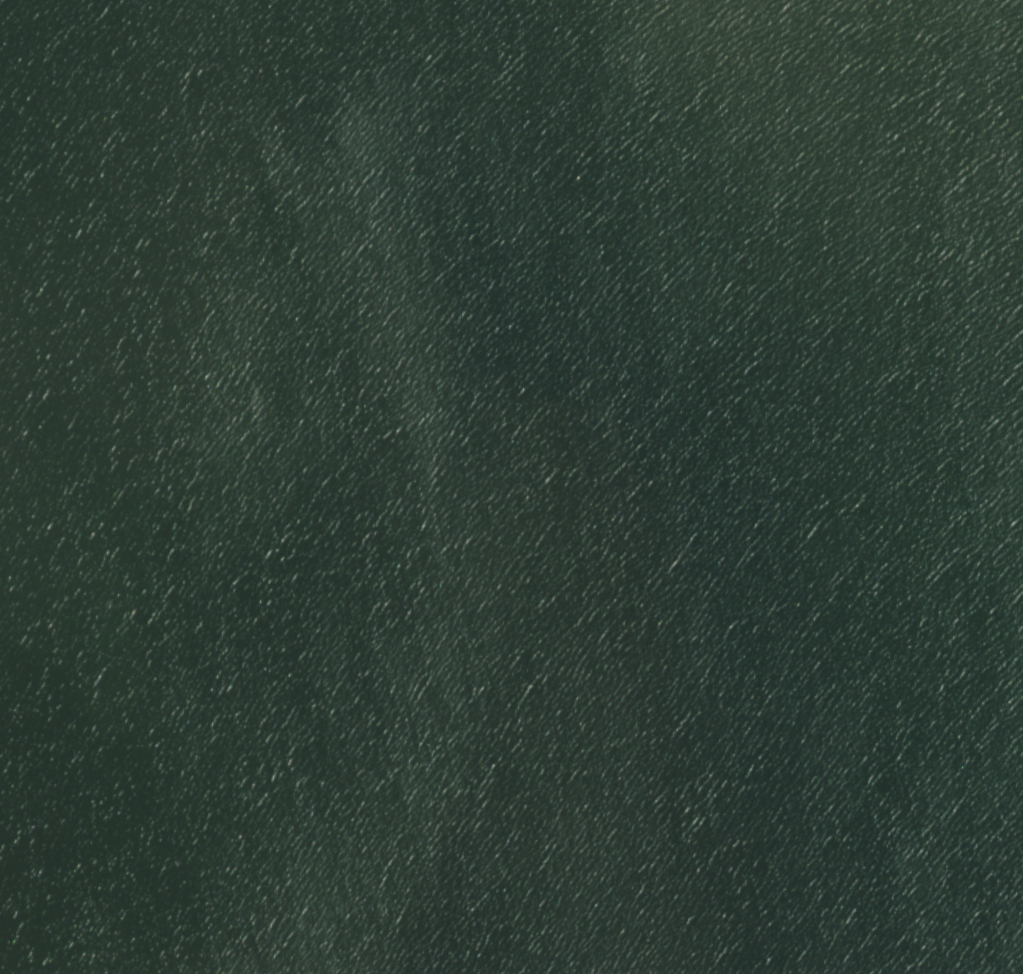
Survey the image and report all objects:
river: (917, 97)
park: (511, 487)

